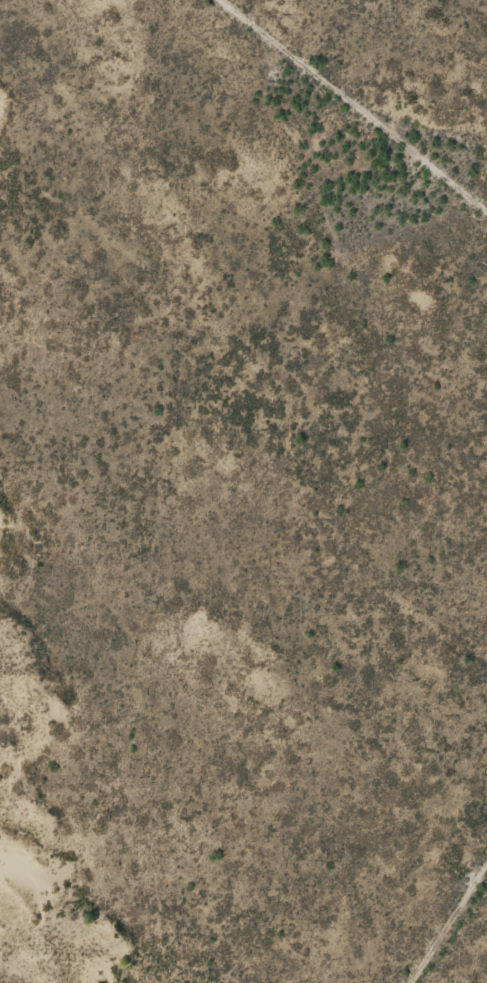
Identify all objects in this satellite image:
road: (358, 100)

